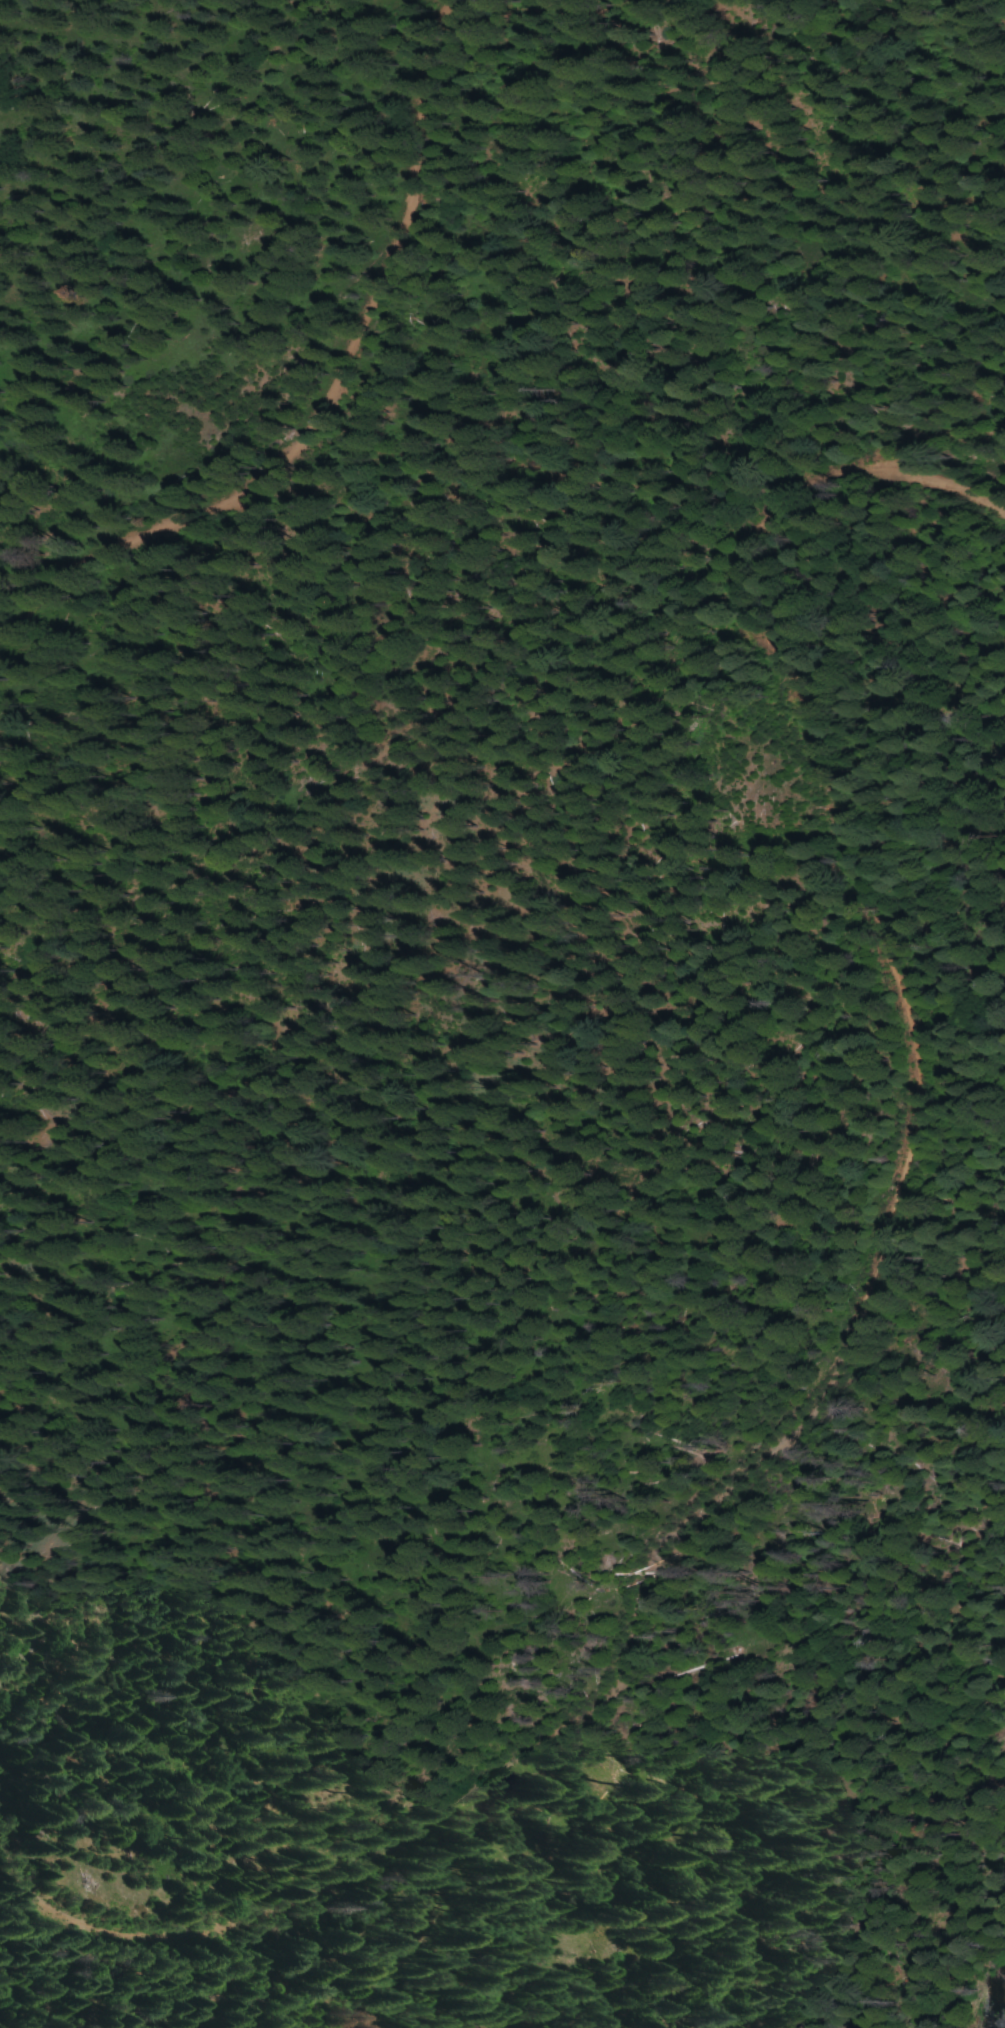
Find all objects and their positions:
road: (234, 308)
river: (996, 2017)

